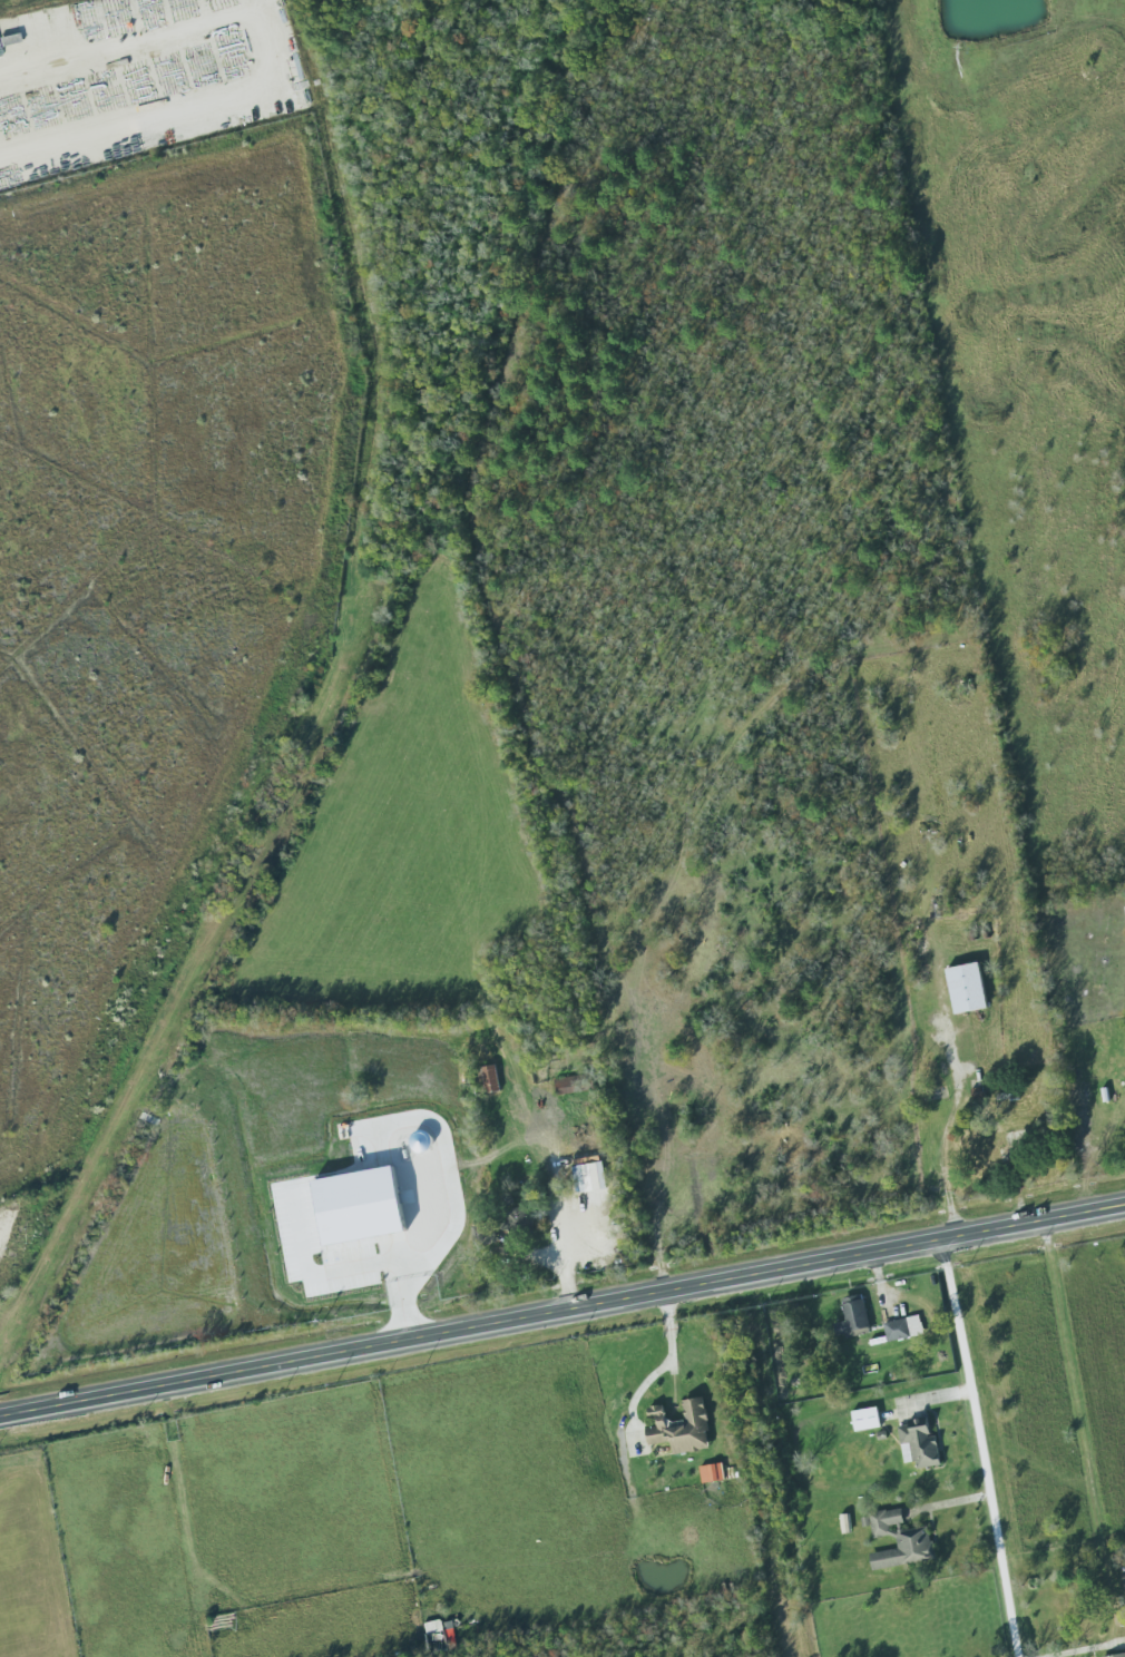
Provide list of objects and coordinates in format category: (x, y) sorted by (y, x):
road: (121, 117)
road: (338, 704)
building: (1124, 910)
building: (965, 988)
building: (489, 1079)
building: (564, 1086)
building: (513, 1218)
building: (405, 1225)
building: (427, 1253)
road: (555, 1262)
road: (427, 1287)
road: (561, 1313)
building: (850, 1316)
building: (894, 1330)
road: (658, 1369)
road: (966, 1375)
building: (864, 1419)
building: (678, 1428)
building: (919, 1443)
building: (710, 1473)
road: (947, 1510)
building: (897, 1541)
road: (1082, 1649)
building: (1117, 1655)

